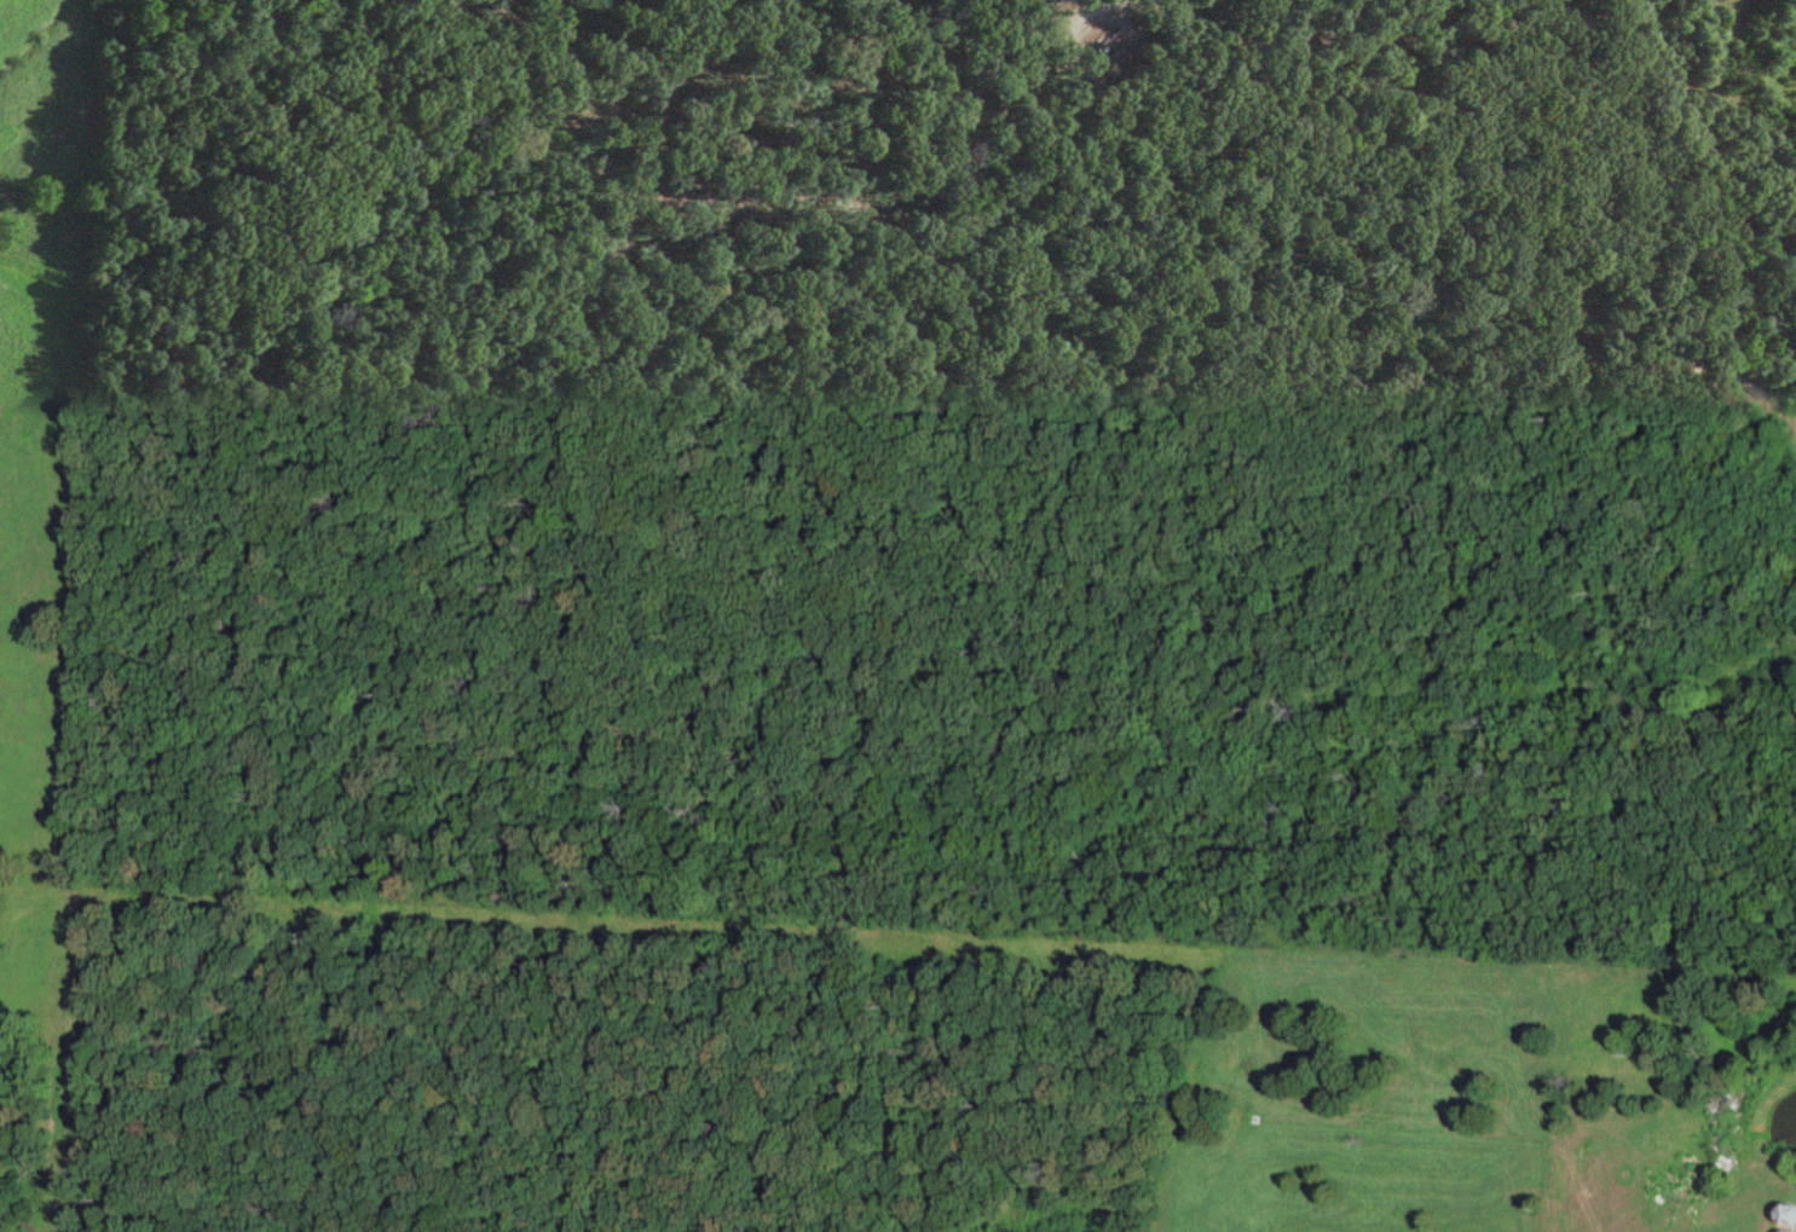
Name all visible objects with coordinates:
building: (1587, 1197)
building: (1645, 1225)

